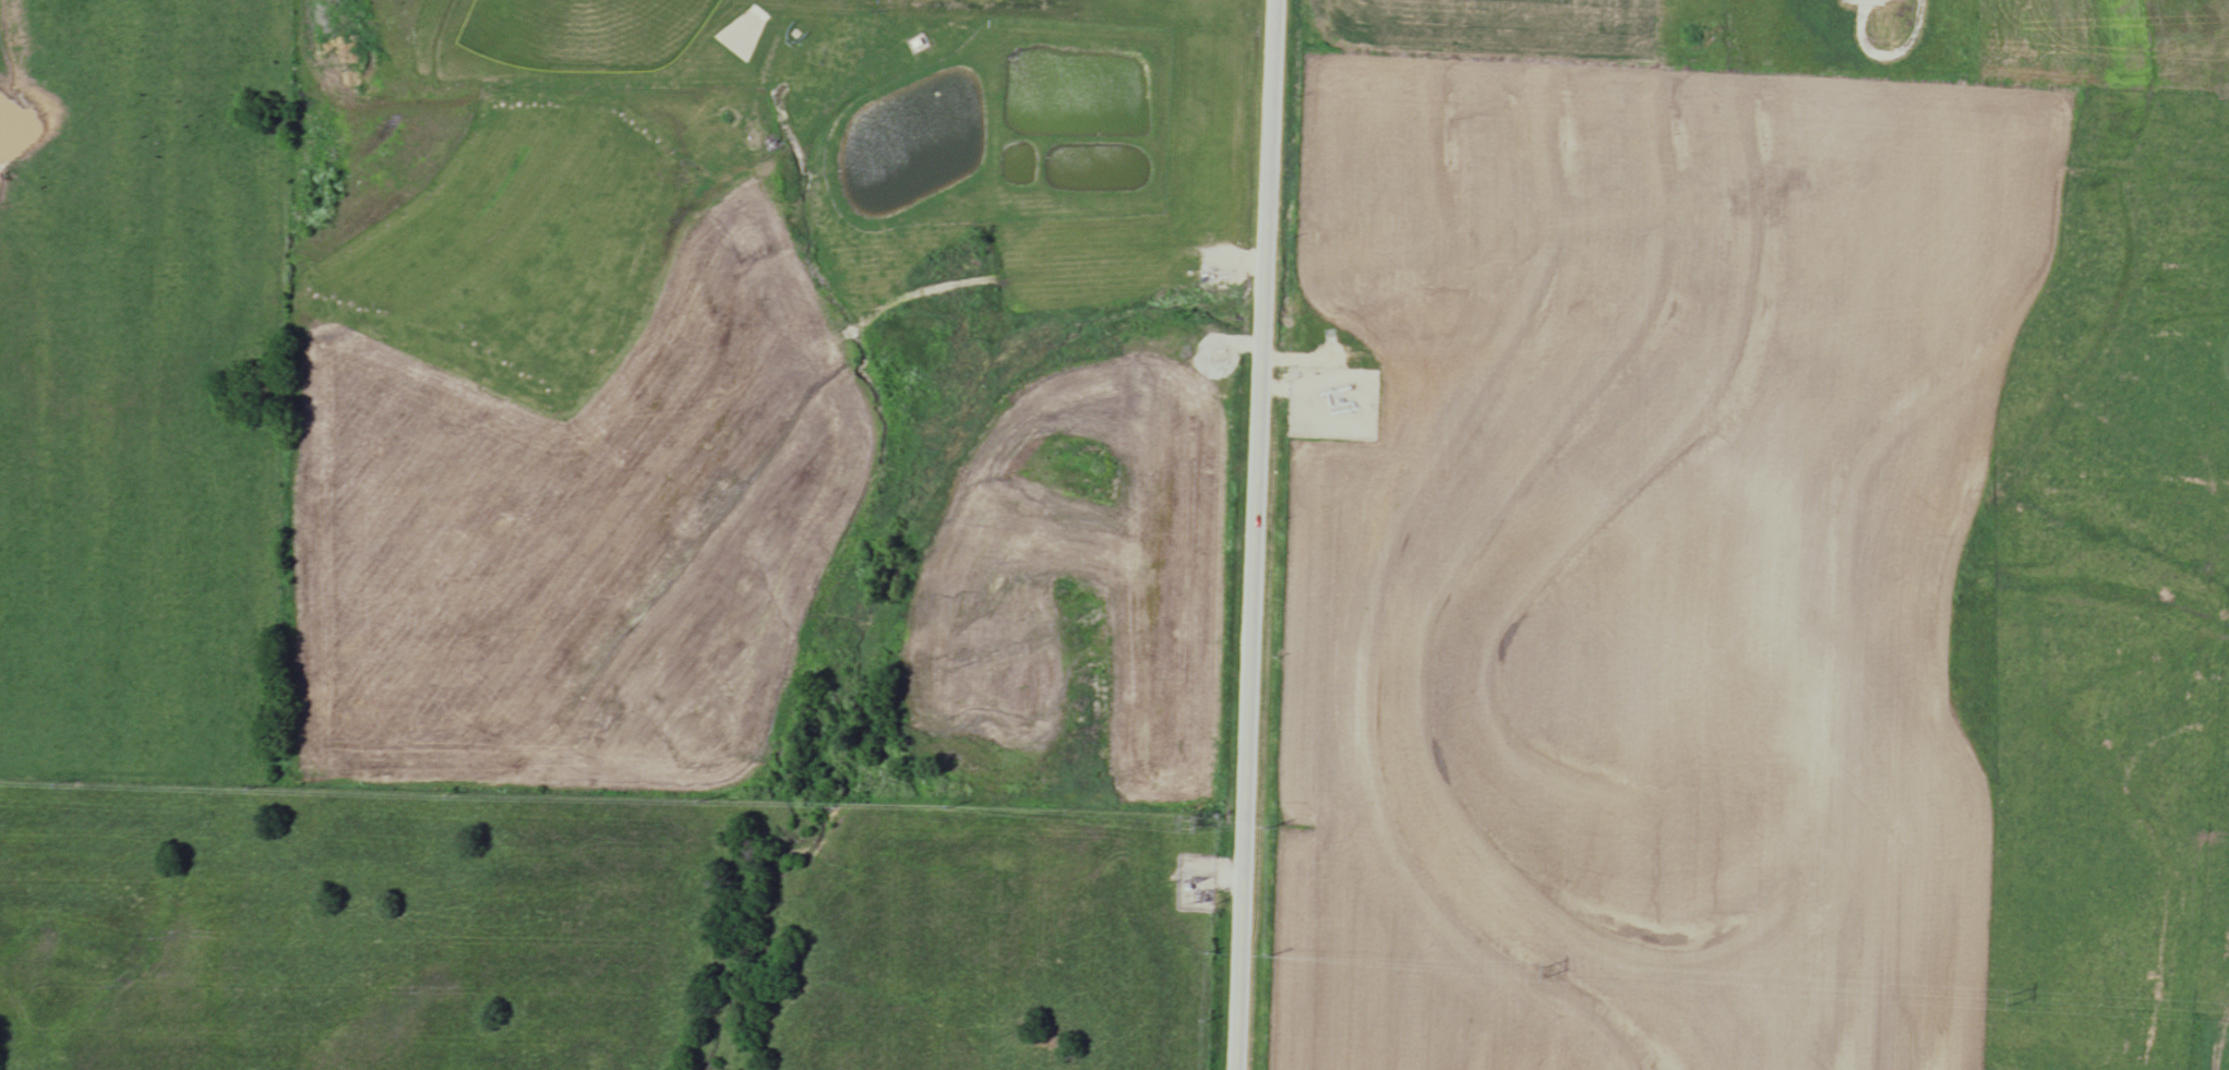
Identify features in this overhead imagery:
crop: (1486, 26)
park: (580, 32)
crop: (2105, 44)
road: (1250, 534)
crop: (1642, 562)

